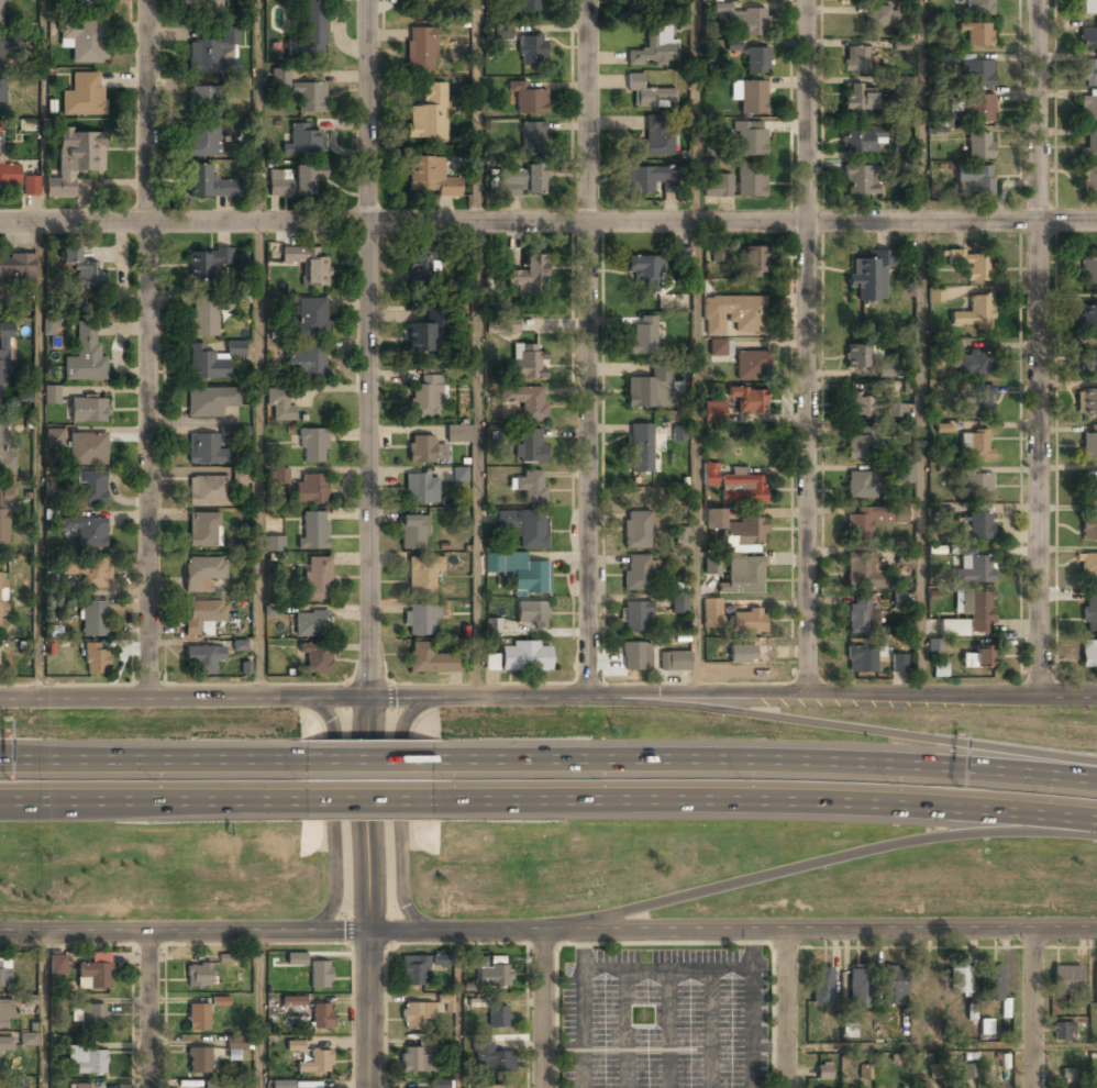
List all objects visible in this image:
building: (293, 0)
building: (645, 2)
building: (84, 5)
building: (529, 5)
building: (201, 7)
building: (1088, 7)
building: (977, 8)
building: (0, 13)
building: (882, 16)
building: (750, 21)
building: (503, 32)
building: (977, 34)
building: (309, 35)
building: (84, 40)
building: (1088, 40)
building: (733, 45)
building: (655, 48)
building: (421, 49)
building: (532, 51)
building: (214, 53)
building: (1, 54)
building: (856, 59)
building: (756, 60)
building: (976, 74)
building: (1089, 74)
building: (279, 77)
building: (904, 85)
building: (84, 93)
building: (649, 93)
building: (2, 98)
building: (204, 98)
building: (753, 98)
building: (310, 99)
building: (858, 99)
building: (529, 101)
building: (978, 109)
building: (1088, 109)
road: (41, 112)
building: (429, 114)
building: (532, 137)
building: (655, 138)
building: (751, 138)
building: (204, 140)
building: (303, 142)
building: (857, 142)
building: (1090, 144)
building: (979, 145)
building: (900, 147)
building: (75, 159)
building: (430, 178)
building: (645, 178)
building: (18, 179)
building: (295, 179)
building: (751, 180)
building: (861, 180)
building: (1088, 180)
building: (208, 181)
building: (523, 181)
building: (974, 181)
building: (718, 187)
road: (547, 222)
building: (718, 253)
building: (682, 255)
building: (753, 262)
building: (207, 263)
building: (420, 263)
building: (308, 264)
building: (969, 264)
building: (1089, 269)
building: (644, 270)
building: (16, 271)
building: (81, 271)
building: (869, 276)
building: (528, 277)
building: (935, 295)
building: (21, 309)
building: (730, 314)
building: (974, 314)
building: (1088, 318)
building: (203, 319)
building: (310, 319)
building: (49, 325)
building: (502, 325)
building: (643, 336)
building: (420, 338)
road: (805, 344)
road: (924, 345)
road: (1039, 346)
road: (697, 347)
building: (717, 347)
road: (148, 348)
road: (259, 348)
road: (588, 348)
building: (235, 349)
road: (477, 349)
building: (857, 358)
building: (85, 359)
building: (3, 360)
building: (306, 363)
building: (528, 363)
building: (207, 364)
building: (1089, 364)
building: (973, 365)
building: (752, 366)
building: (649, 391)
building: (52, 395)
building: (426, 398)
building: (749, 400)
building: (527, 402)
building: (209, 403)
building: (978, 403)
building: (1087, 403)
building: (279, 407)
building: (860, 407)
building: (89, 411)
building: (894, 411)
building: (713, 412)
building: (943, 428)
building: (904, 430)
building: (234, 431)
building: (678, 433)
building: (457, 435)
building: (55, 437)
building: (1089, 443)
building: (975, 445)
building: (312, 446)
building: (529, 447)
building: (858, 447)
building: (87, 449)
building: (641, 449)
building: (204, 451)
building: (422, 451)
building: (5, 456)
road: (38, 460)
building: (461, 474)
building: (710, 474)
building: (904, 474)
building: (242, 475)
building: (276, 476)
building: (1092, 484)
building: (976, 485)
building: (860, 486)
building: (530, 487)
building: (88, 488)
building: (421, 489)
building: (743, 489)
building: (311, 490)
building: (207, 491)
building: (938, 514)
building: (5, 517)
building: (872, 521)
building: (1089, 525)
building: (524, 526)
building: (980, 526)
building: (636, 530)
building: (736, 530)
building: (203, 531)
building: (313, 531)
building: (86, 532)
building: (412, 533)
building: (682, 535)
building: (274, 543)
road: (369, 544)
building: (906, 556)
building: (712, 565)
building: (1089, 567)
building: (975, 569)
building: (861, 570)
building: (87, 571)
building: (520, 571)
building: (638, 571)
building: (201, 574)
building: (423, 575)
building: (315, 578)
building: (743, 578)
building: (2, 595)
building: (899, 600)
building: (679, 604)
building: (976, 609)
building: (273, 610)
building: (1089, 612)
building: (711, 613)
building: (531, 614)
building: (635, 617)
building: (202, 618)
building: (862, 618)
building: (421, 619)
building: (93, 620)
building: (749, 622)
building: (311, 624)
building: (492, 626)
building: (952, 629)
building: (934, 645)
building: (747, 654)
building: (1088, 654)
building: (317, 657)
building: (525, 657)
building: (636, 657)
building: (979, 658)
building: (96, 659)
building: (203, 659)
building: (861, 659)
building: (430, 660)
building: (491, 662)
building: (675, 662)
building: (0, 663)
building: (899, 664)
building: (940, 669)
road: (548, 698)
road: (858, 730)
road: (100, 756)
road: (767, 757)
road: (372, 762)
road: (153, 763)
road: (769, 797)
road: (375, 802)
road: (154, 804)
road: (335, 807)
road: (402, 813)
road: (817, 863)
road: (548, 931)
building: (228, 957)
building: (296, 959)
building: (442, 959)
building: (476, 961)
building: (57, 964)
building: (412, 972)
building: (4, 973)
building: (95, 973)
building: (198, 976)
building: (320, 976)
building: (499, 977)
building: (927, 979)
building: (1066, 979)
building: (960, 981)
building: (991, 984)
building: (821, 985)
building: (895, 986)
building: (858, 988)
building: (1095, 990)
building: (220, 1001)
building: (293, 1001)
building: (444, 1003)
road: (1030, 1006)
road: (259, 1009)
road: (459, 1009)
road: (543, 1009)
road: (784, 1009)
road: (43, 1010)
road: (148, 1010)
building: (5, 1015)
building: (414, 1015)
building: (198, 1017)
building: (321, 1017)
building: (91, 1018)
building: (498, 1018)
building: (986, 1026)
building: (850, 1031)
building: (1063, 1031)
building: (29, 1039)
building: (5, 1044)
building: (295, 1045)
road: (940, 1046)
building: (235, 1047)
building: (88, 1059)
building: (492, 1059)
building: (413, 1061)
building: (199, 1062)
building: (315, 1063)
building: (969, 1070)
building: (823, 1072)
building: (1067, 1073)
building: (865, 1074)
building: (439, 1084)
building: (282, 1085)
building: (225, 1086)
building: (486, 1086)
building: (79, 1087)
building: (319, 1087)

